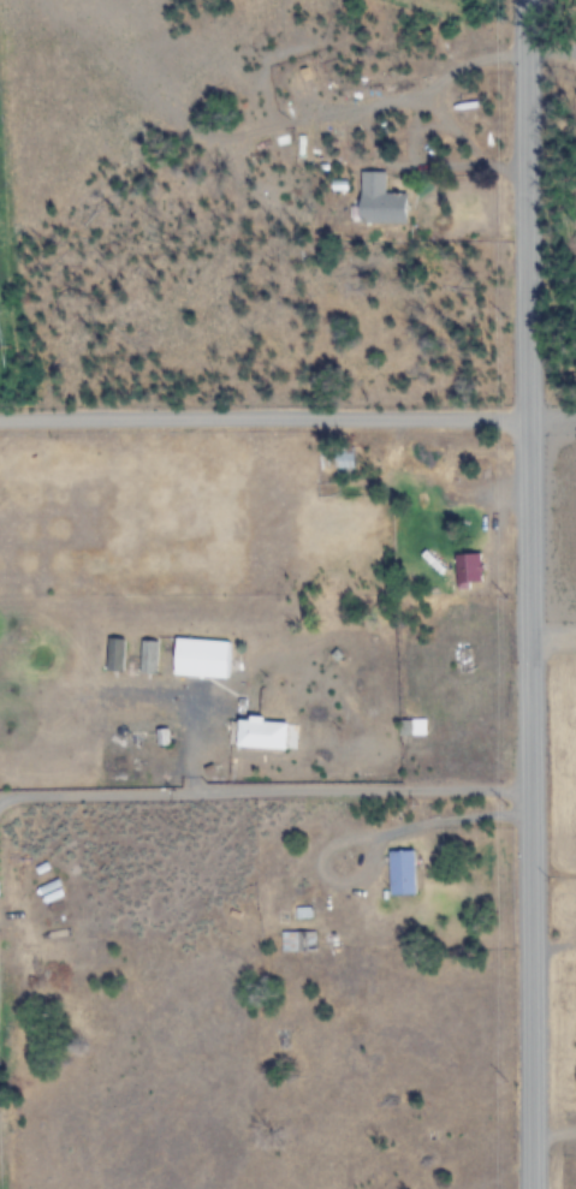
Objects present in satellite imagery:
building: (379, 202)
road: (263, 421)
building: (467, 567)
crop: (287, 594)
road: (528, 594)
road: (552, 644)
building: (117, 655)
building: (150, 656)
building: (202, 659)
building: (412, 727)
building: (262, 733)
road: (265, 791)
building: (403, 873)
building: (299, 943)

